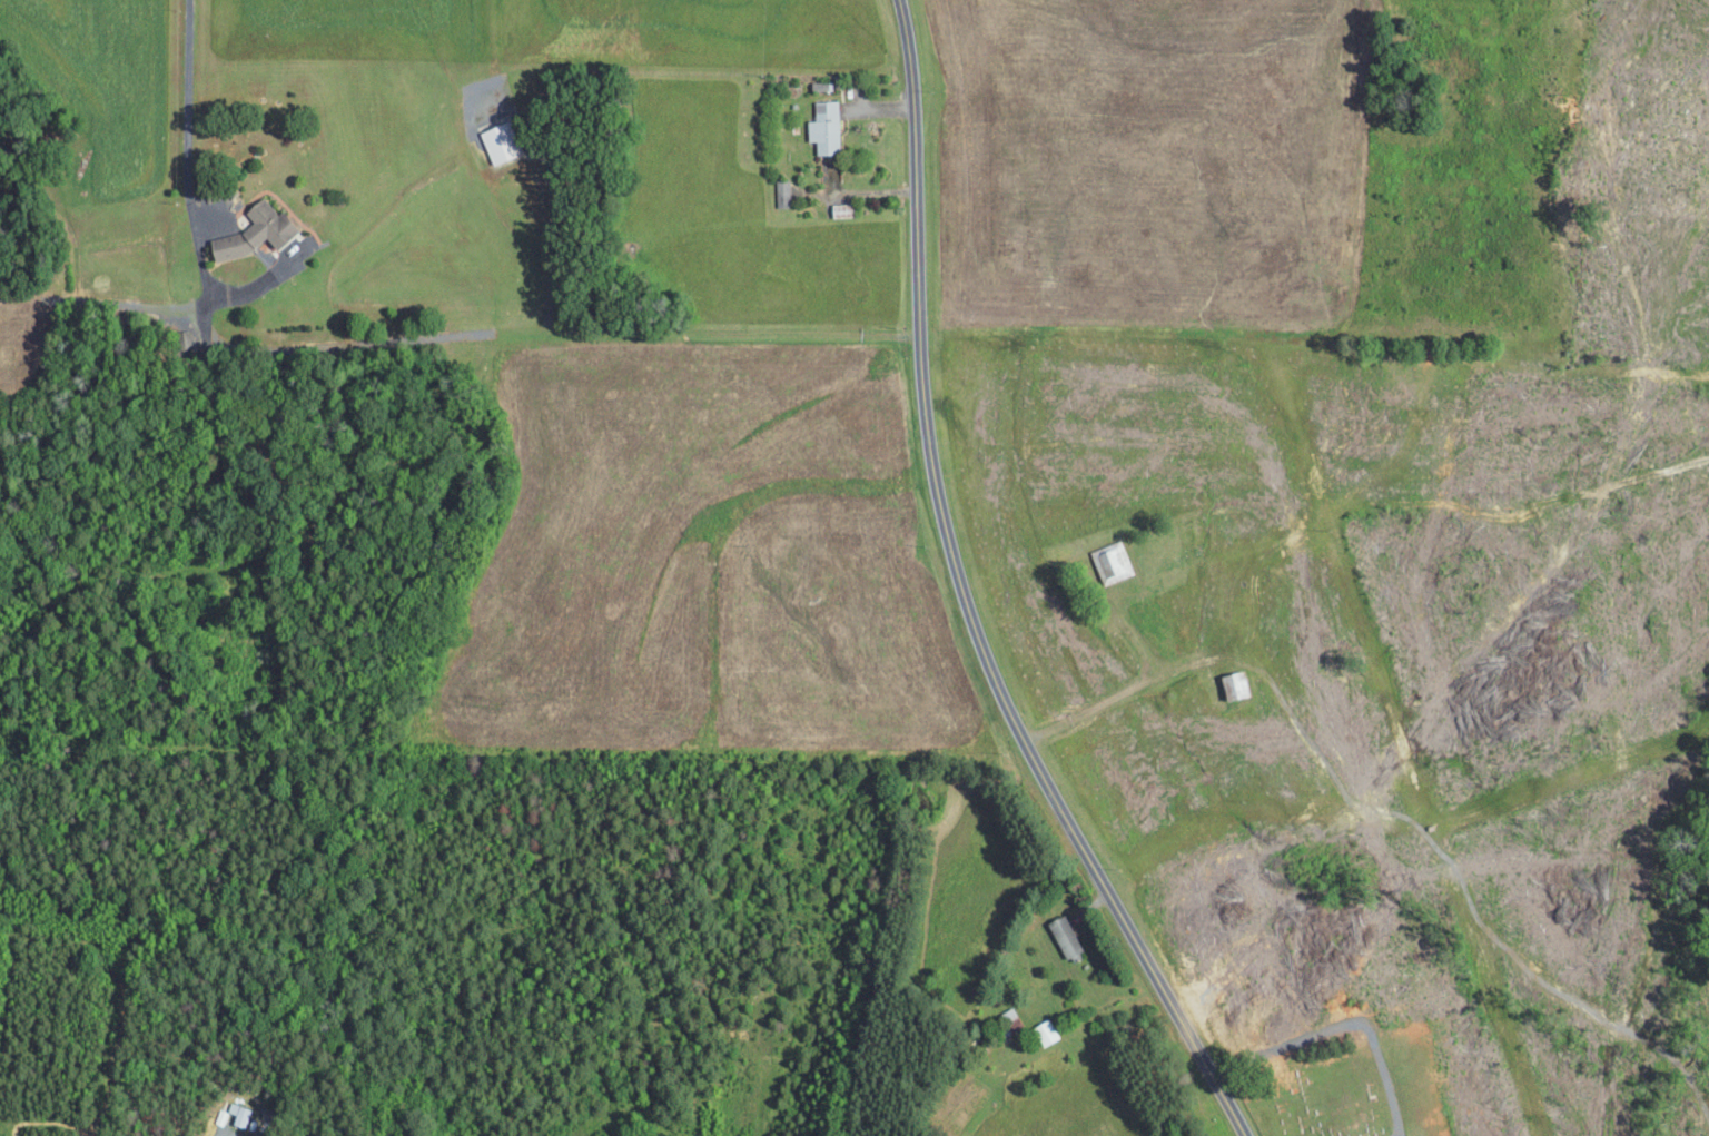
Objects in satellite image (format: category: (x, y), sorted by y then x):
building: (817, 85)
building: (822, 126)
road: (187, 132)
building: (496, 141)
building: (781, 192)
building: (251, 231)
building: (1110, 561)
road: (956, 600)
road: (1138, 679)
building: (1063, 936)
building: (1044, 1031)
building: (238, 1116)
road: (229, 1135)

